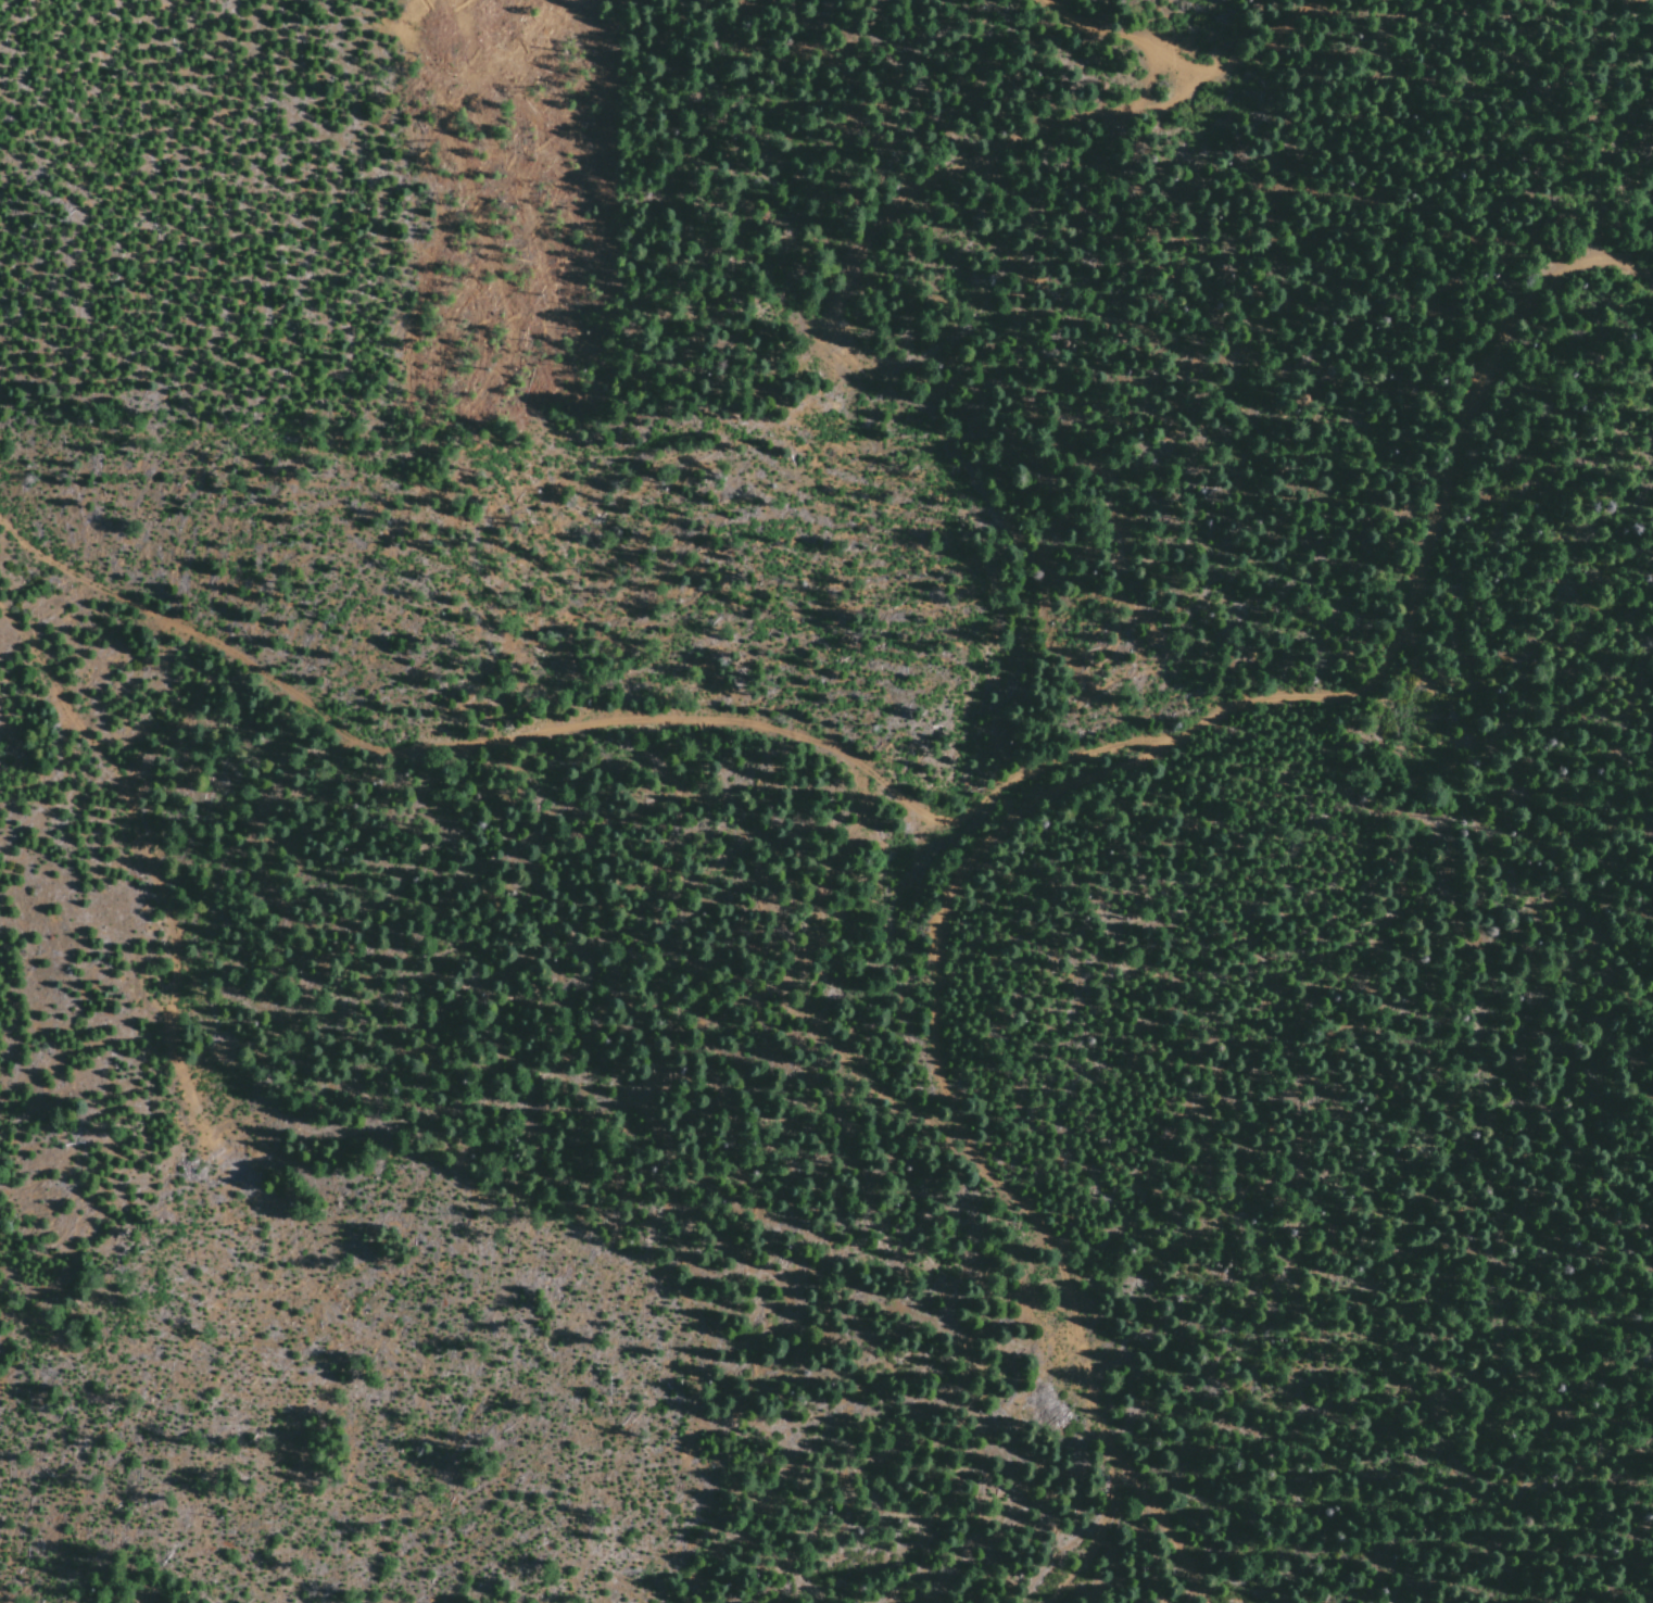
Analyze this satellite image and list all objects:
road: (1627, 4)
road: (1040, 804)
road: (1102, 1539)

